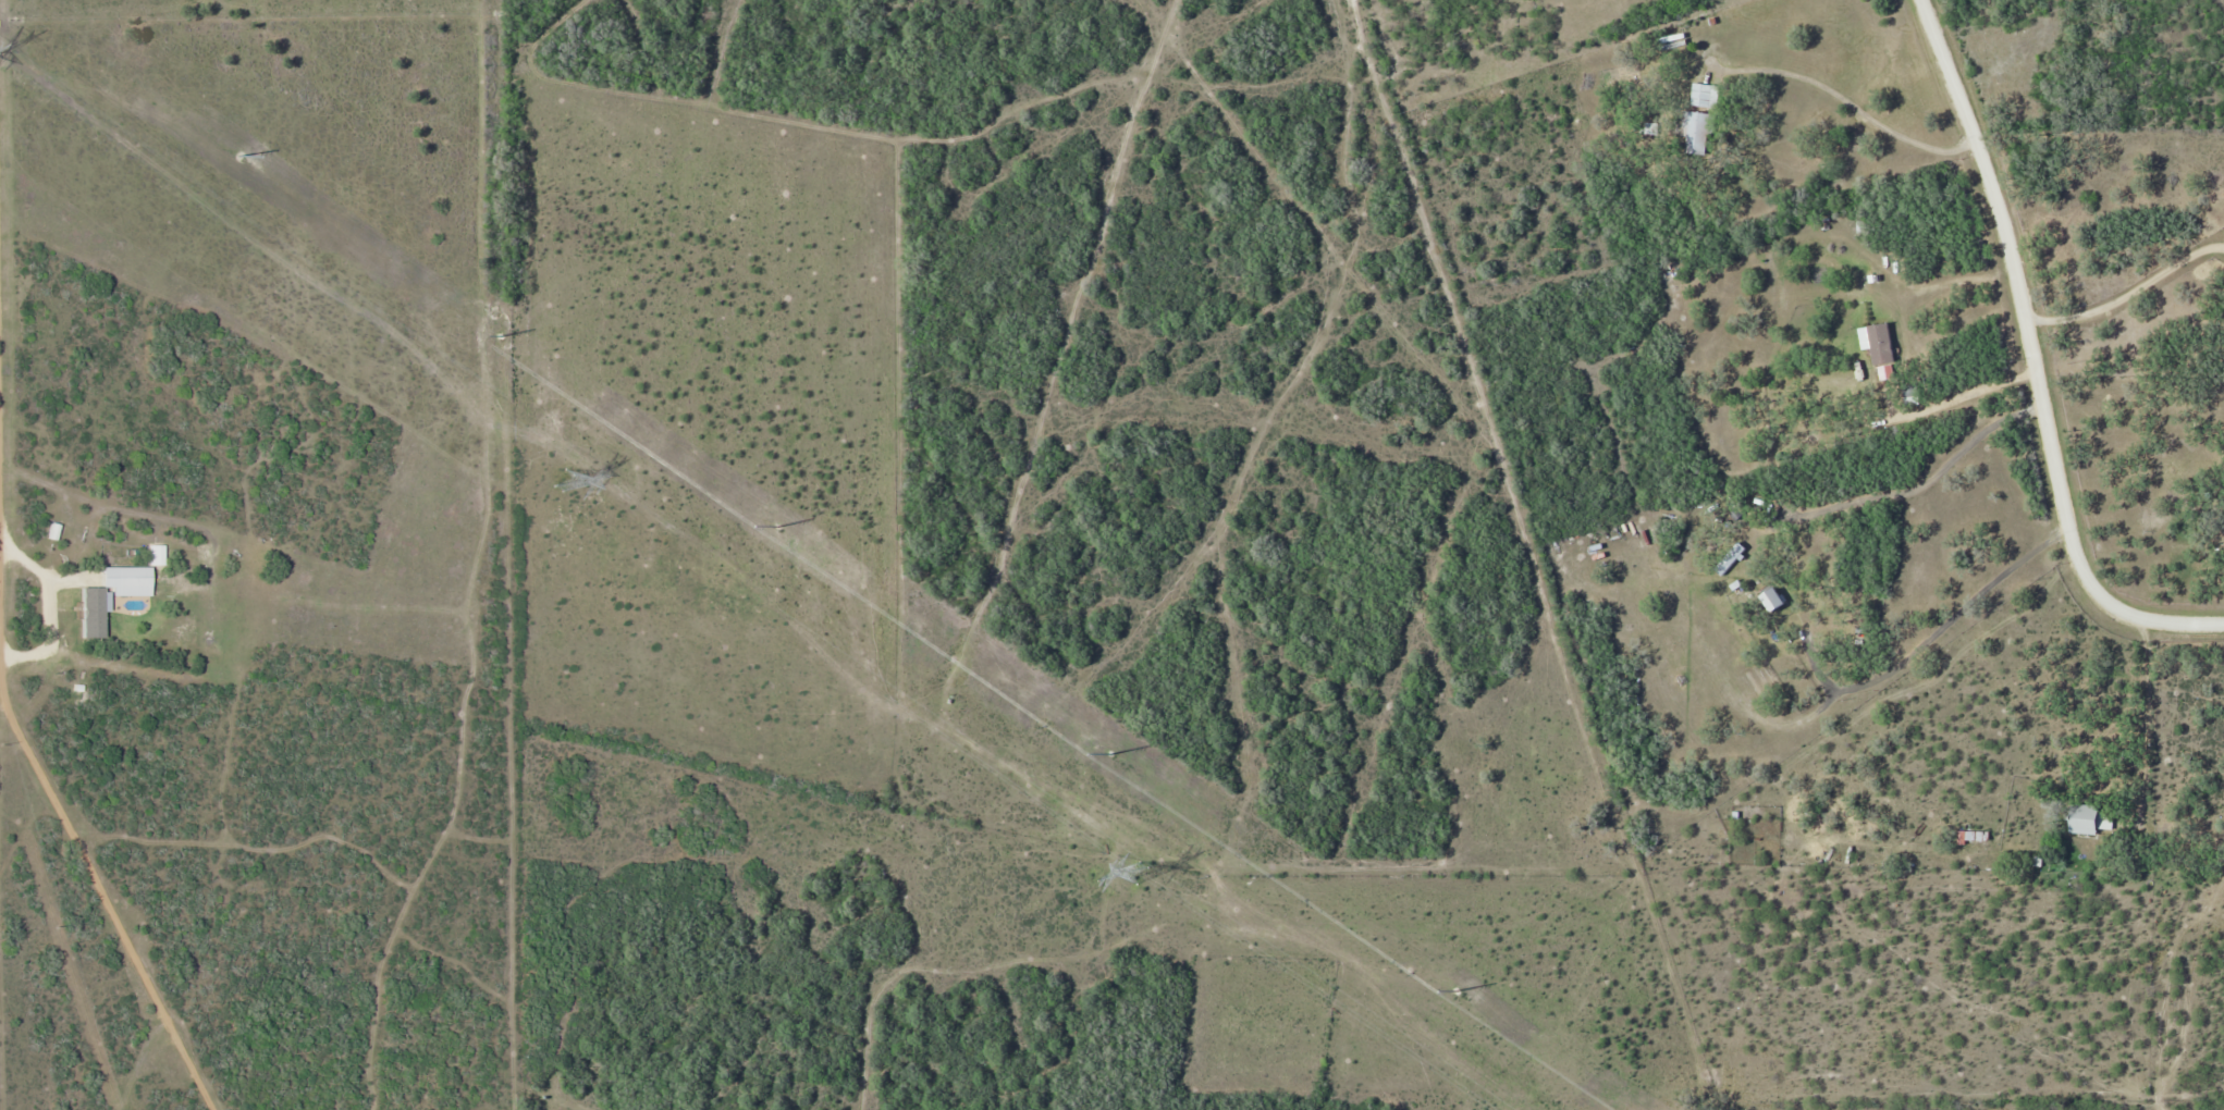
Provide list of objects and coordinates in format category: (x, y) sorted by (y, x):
building: (1703, 94)
road: (1843, 102)
building: (1693, 133)
road: (2125, 293)
building: (1877, 341)
road: (2033, 360)
building: (1845, 382)
road: (1966, 392)
building: (1910, 394)
power tower: (565, 481)
building: (1730, 556)
building: (1773, 599)
road: (2143, 720)
building: (2090, 818)
building: (1974, 835)
power tower: (1138, 873)

